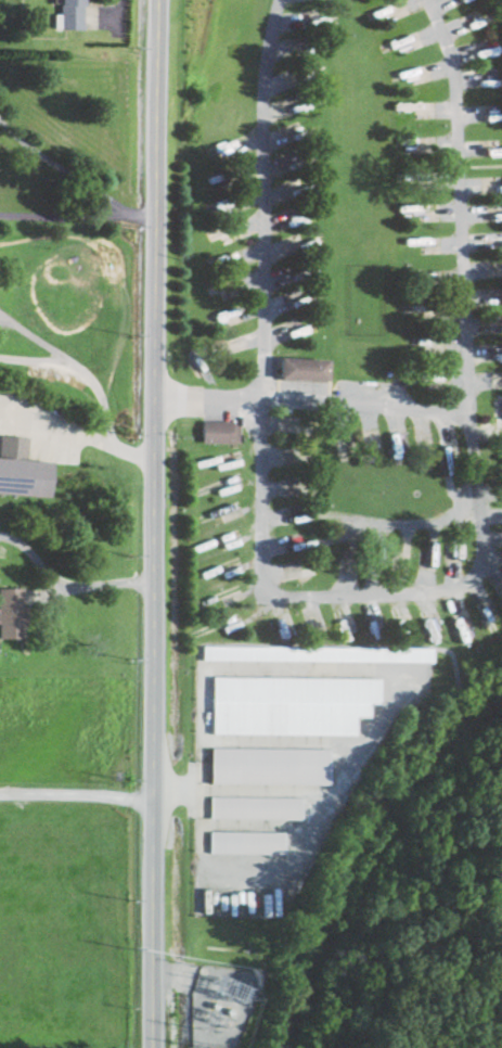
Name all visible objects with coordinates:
building: (70, 14)
building: (492, 187)
road: (78, 215)
building: (493, 216)
building: (216, 237)
building: (304, 369)
road: (309, 401)
building: (220, 433)
building: (343, 452)
building: (220, 459)
building: (397, 459)
building: (446, 462)
building: (218, 485)
building: (219, 512)
road: (152, 523)
building: (355, 529)
building: (218, 540)
building: (292, 542)
building: (432, 549)
building: (376, 557)
building: (347, 562)
building: (218, 568)
road: (369, 591)
building: (500, 595)
building: (218, 597)
building: (12, 613)
building: (489, 624)
building: (216, 627)
building: (344, 632)
building: (460, 632)
building: (375, 637)
building: (287, 639)
building: (269, 765)
road: (76, 793)
building: (255, 807)
building: (246, 842)
power substation: (219, 1004)

